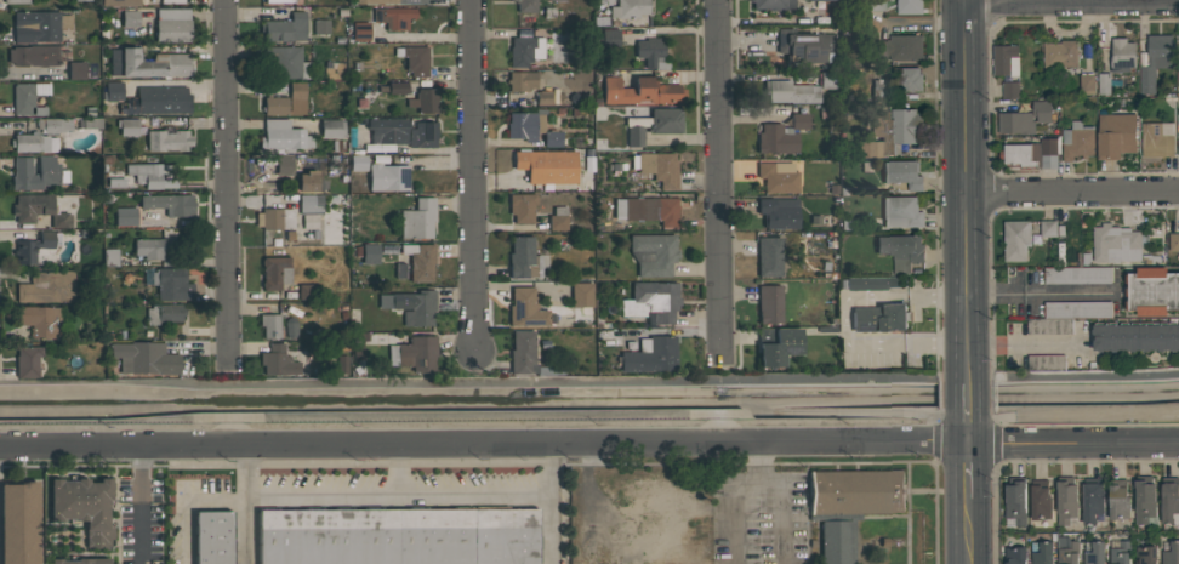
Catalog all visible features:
building: (81, 0)
building: (556, 0)
building: (822, 0)
building: (17, 1)
building: (172, 1)
building: (279, 1)
building: (394, 1)
building: (599, 1)
building: (608, 1)
building: (120, 2)
building: (773, 4)
building: (876, 5)
road: (1072, 5)
building: (526, 6)
building: (909, 7)
building: (628, 8)
building: (393, 16)
building: (130, 18)
building: (172, 24)
building: (39, 25)
building: (320, 25)
building: (285, 28)
building: (360, 30)
building: (610, 36)
building: (804, 45)
building: (900, 47)
building: (524, 50)
building: (653, 52)
building: (34, 55)
building: (1122, 56)
building: (1059, 57)
building: (414, 59)
building: (1006, 61)
building: (1155, 61)
building: (287, 62)
building: (149, 63)
building: (76, 70)
building: (827, 79)
building: (1178, 79)
building: (522, 80)
building: (909, 80)
building: (1087, 85)
building: (397, 86)
building: (112, 90)
building: (881, 90)
building: (1010, 90)
building: (639, 91)
building: (791, 91)
building: (27, 95)
building: (543, 97)
building: (158, 99)
building: (423, 99)
building: (286, 102)
building: (1042, 110)
building: (659, 120)
building: (799, 120)
building: (1015, 123)
building: (526, 124)
building: (53, 125)
building: (127, 126)
building: (331, 127)
building: (388, 130)
building: (892, 131)
building: (422, 133)
building: (1115, 135)
building: (284, 136)
building: (634, 136)
building: (552, 138)
building: (776, 138)
building: (167, 139)
building: (1157, 139)
building: (1077, 141)
building: (33, 142)
building: (1178, 147)
building: (1031, 154)
building: (284, 164)
building: (546, 166)
building: (656, 167)
building: (52, 171)
building: (149, 175)
building: (901, 175)
building: (388, 177)
building: (778, 177)
road: (474, 178)
road: (229, 180)
building: (309, 181)
road: (722, 181)
road: (966, 187)
road: (1072, 193)
building: (169, 203)
building: (311, 204)
building: (523, 206)
building: (648, 209)
building: (39, 210)
building: (779, 212)
building: (901, 212)
building: (125, 216)
building: (275, 218)
building: (417, 218)
building: (558, 218)
building: (1048, 228)
building: (1015, 240)
building: (1173, 243)
building: (1115, 244)
building: (148, 247)
building: (36, 249)
building: (901, 250)
building: (368, 252)
building: (653, 253)
building: (768, 256)
building: (110, 257)
building: (523, 257)
building: (420, 261)
building: (275, 272)
building: (1077, 275)
building: (171, 284)
building: (46, 286)
building: (1151, 291)
building: (306, 292)
road: (1040, 294)
building: (581, 295)
building: (651, 302)
building: (769, 303)
building: (411, 306)
building: (525, 307)
building: (164, 313)
building: (1066, 317)
building: (879, 318)
building: (39, 320)
building: (270, 325)
building: (1135, 336)
building: (776, 346)
road: (1026, 346)
building: (522, 352)
building: (414, 353)
building: (650, 354)
building: (144, 358)
building: (27, 360)
building: (278, 360)
building: (1046, 363)
road: (968, 397)
building: (1042, 409)
road: (968, 432)
road: (1073, 444)
road: (483, 448)
road: (757, 463)
road: (968, 472)
road: (397, 473)
building: (855, 491)
road: (403, 496)
building: (1066, 499)
building: (1169, 499)
building: (1040, 500)
building: (1090, 500)
building: (1117, 500)
building: (1144, 500)
road: (190, 502)
building: (1015, 502)
building: (84, 506)
road: (254, 506)
road: (553, 506)
road: (143, 507)
road: (734, 513)
road: (778, 513)
building: (18, 523)
road: (968, 531)
building: (212, 536)
building: (398, 536)
building: (837, 537)
building: (1066, 551)
building: (1120, 552)
building: (1145, 552)
building: (1171, 552)
building: (1043, 553)
building: (1095, 554)
building: (1015, 556)
building: (80, 560)

